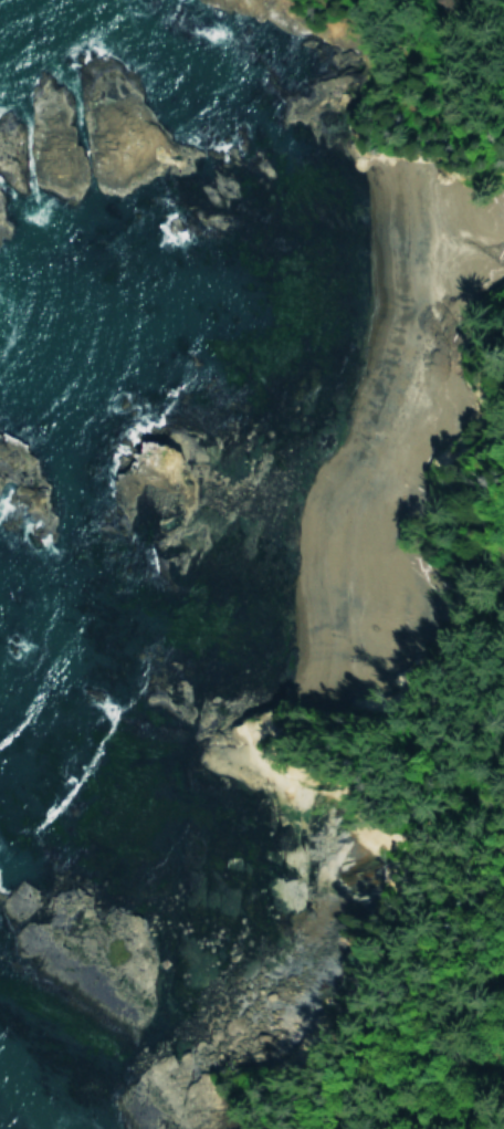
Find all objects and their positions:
building: (502, 432)
road: (459, 929)

